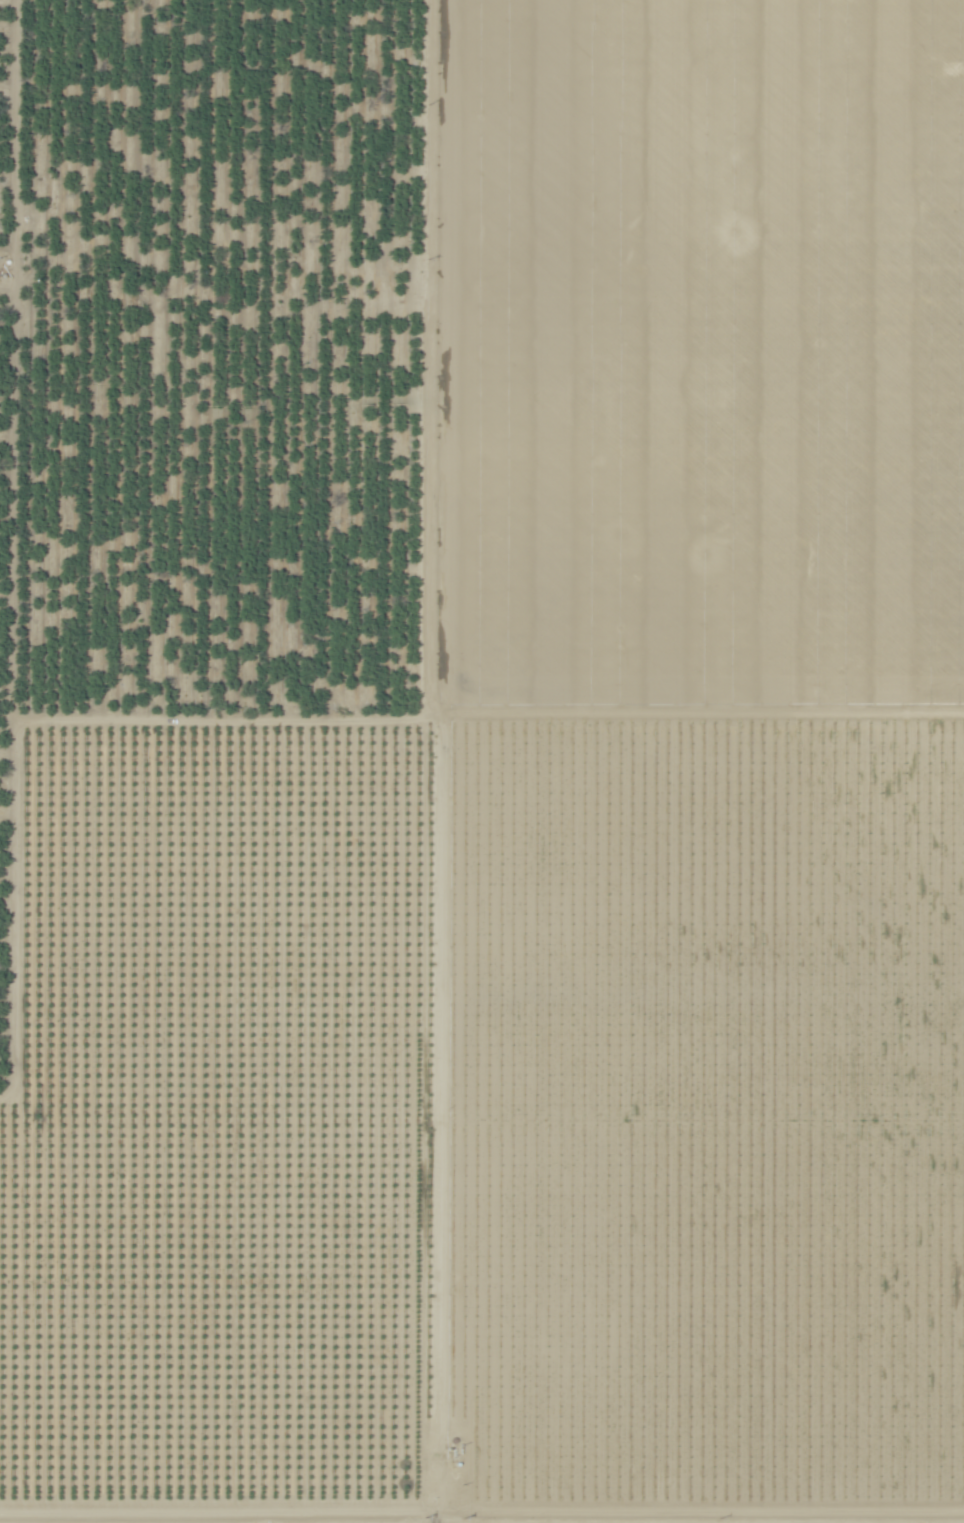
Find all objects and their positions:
crop: (481, 758)

